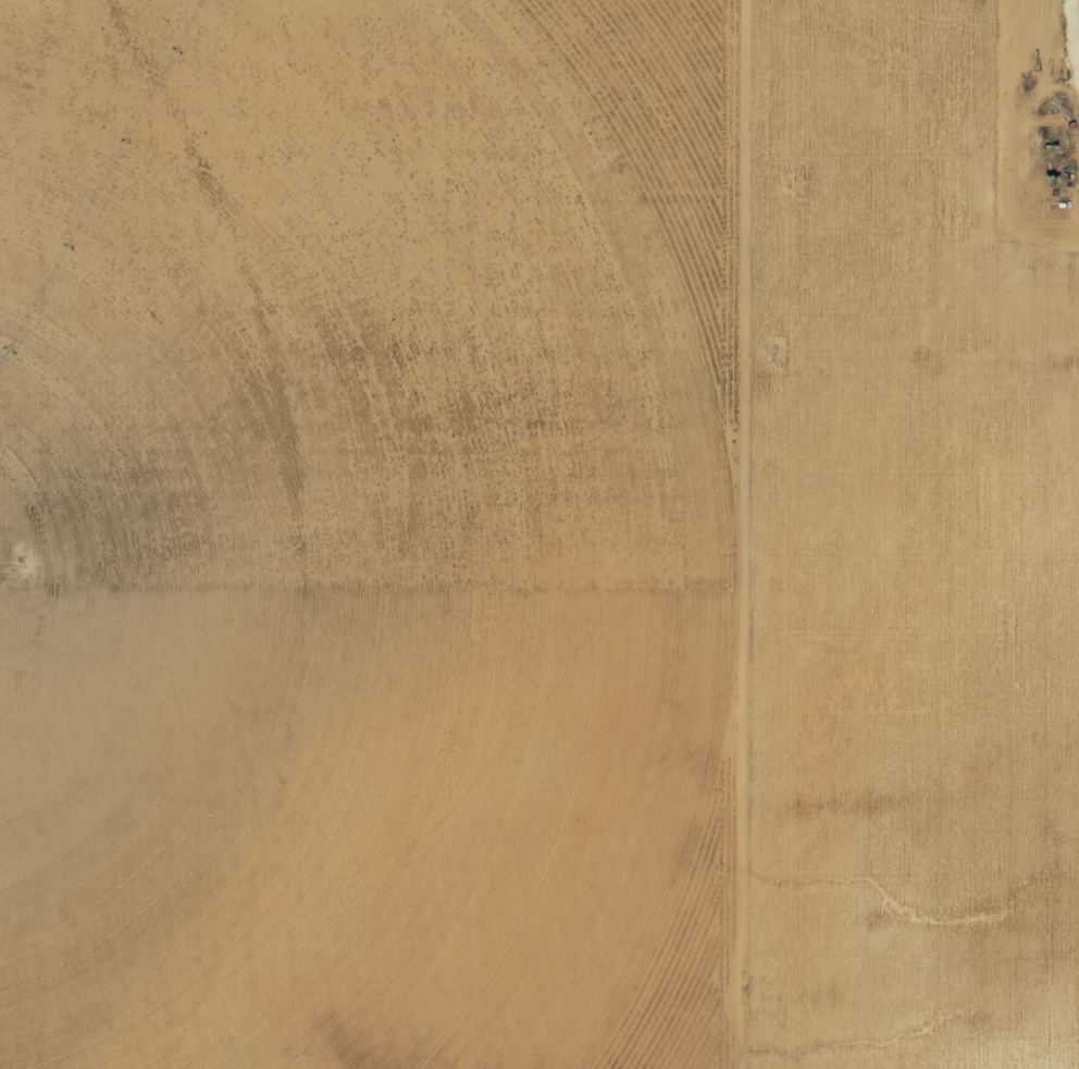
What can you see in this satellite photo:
road: (1068, 37)

